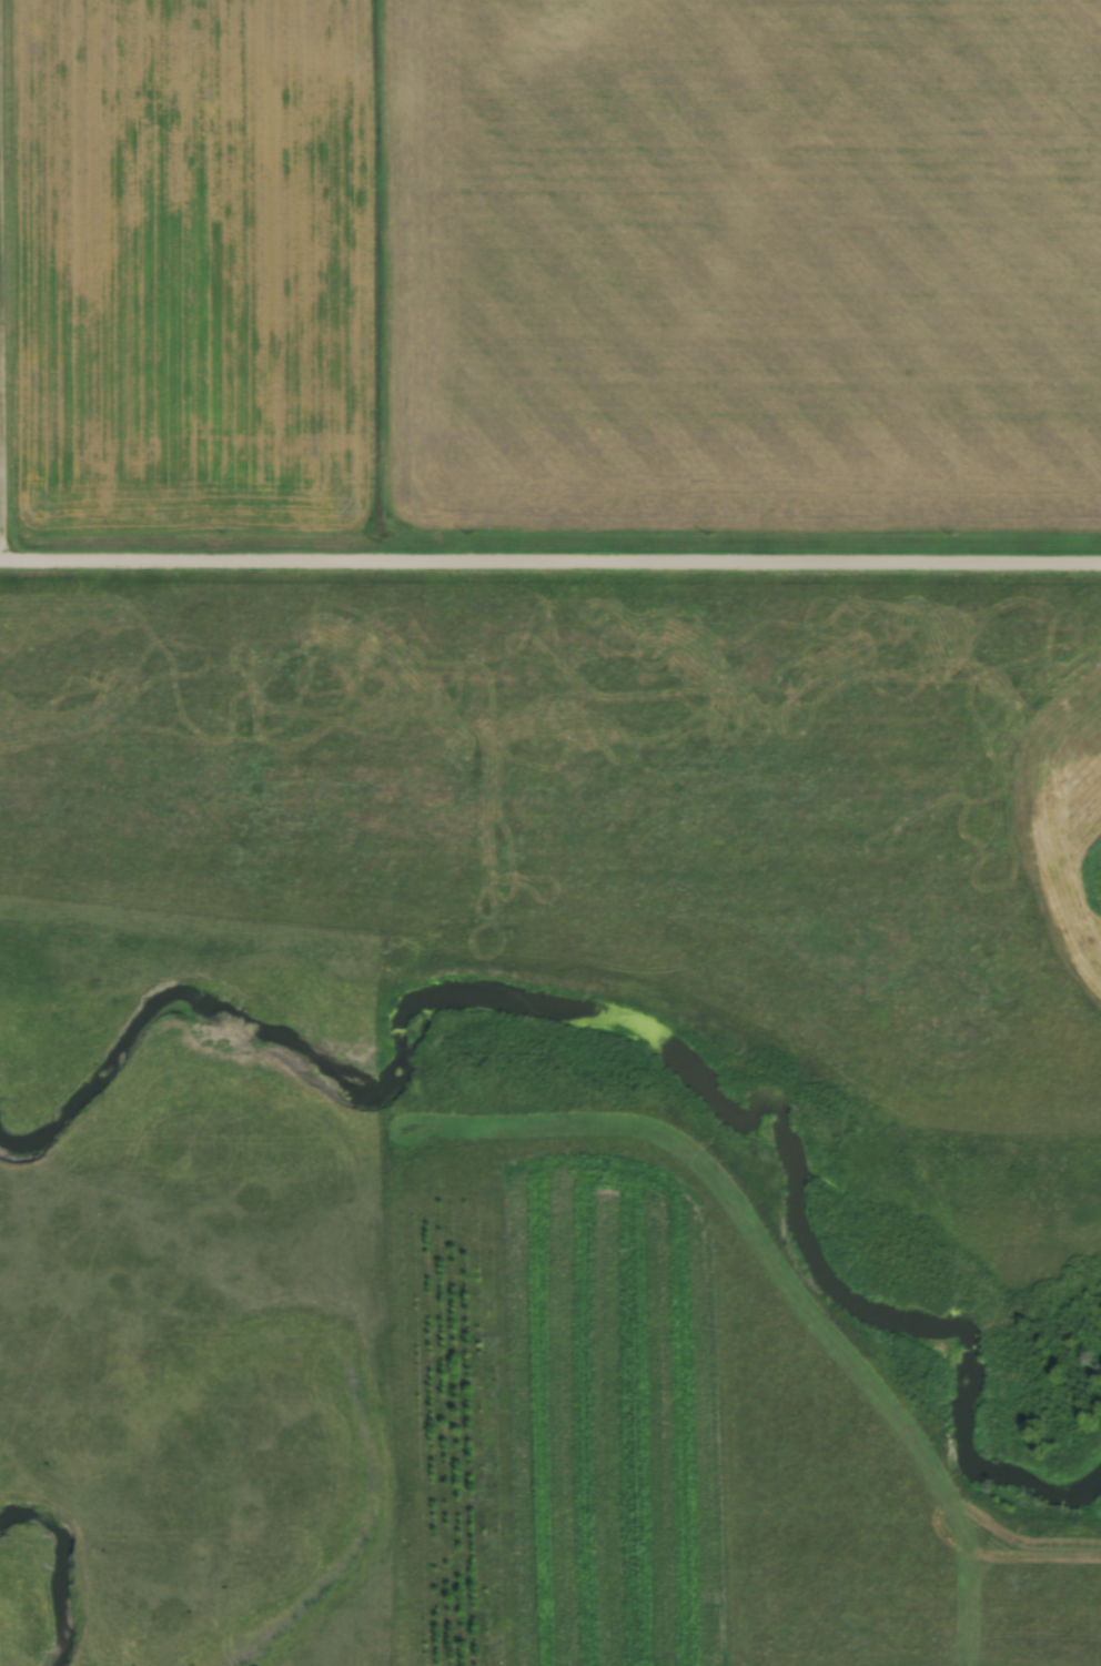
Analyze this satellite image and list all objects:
road: (2, 276)
road: (549, 556)

